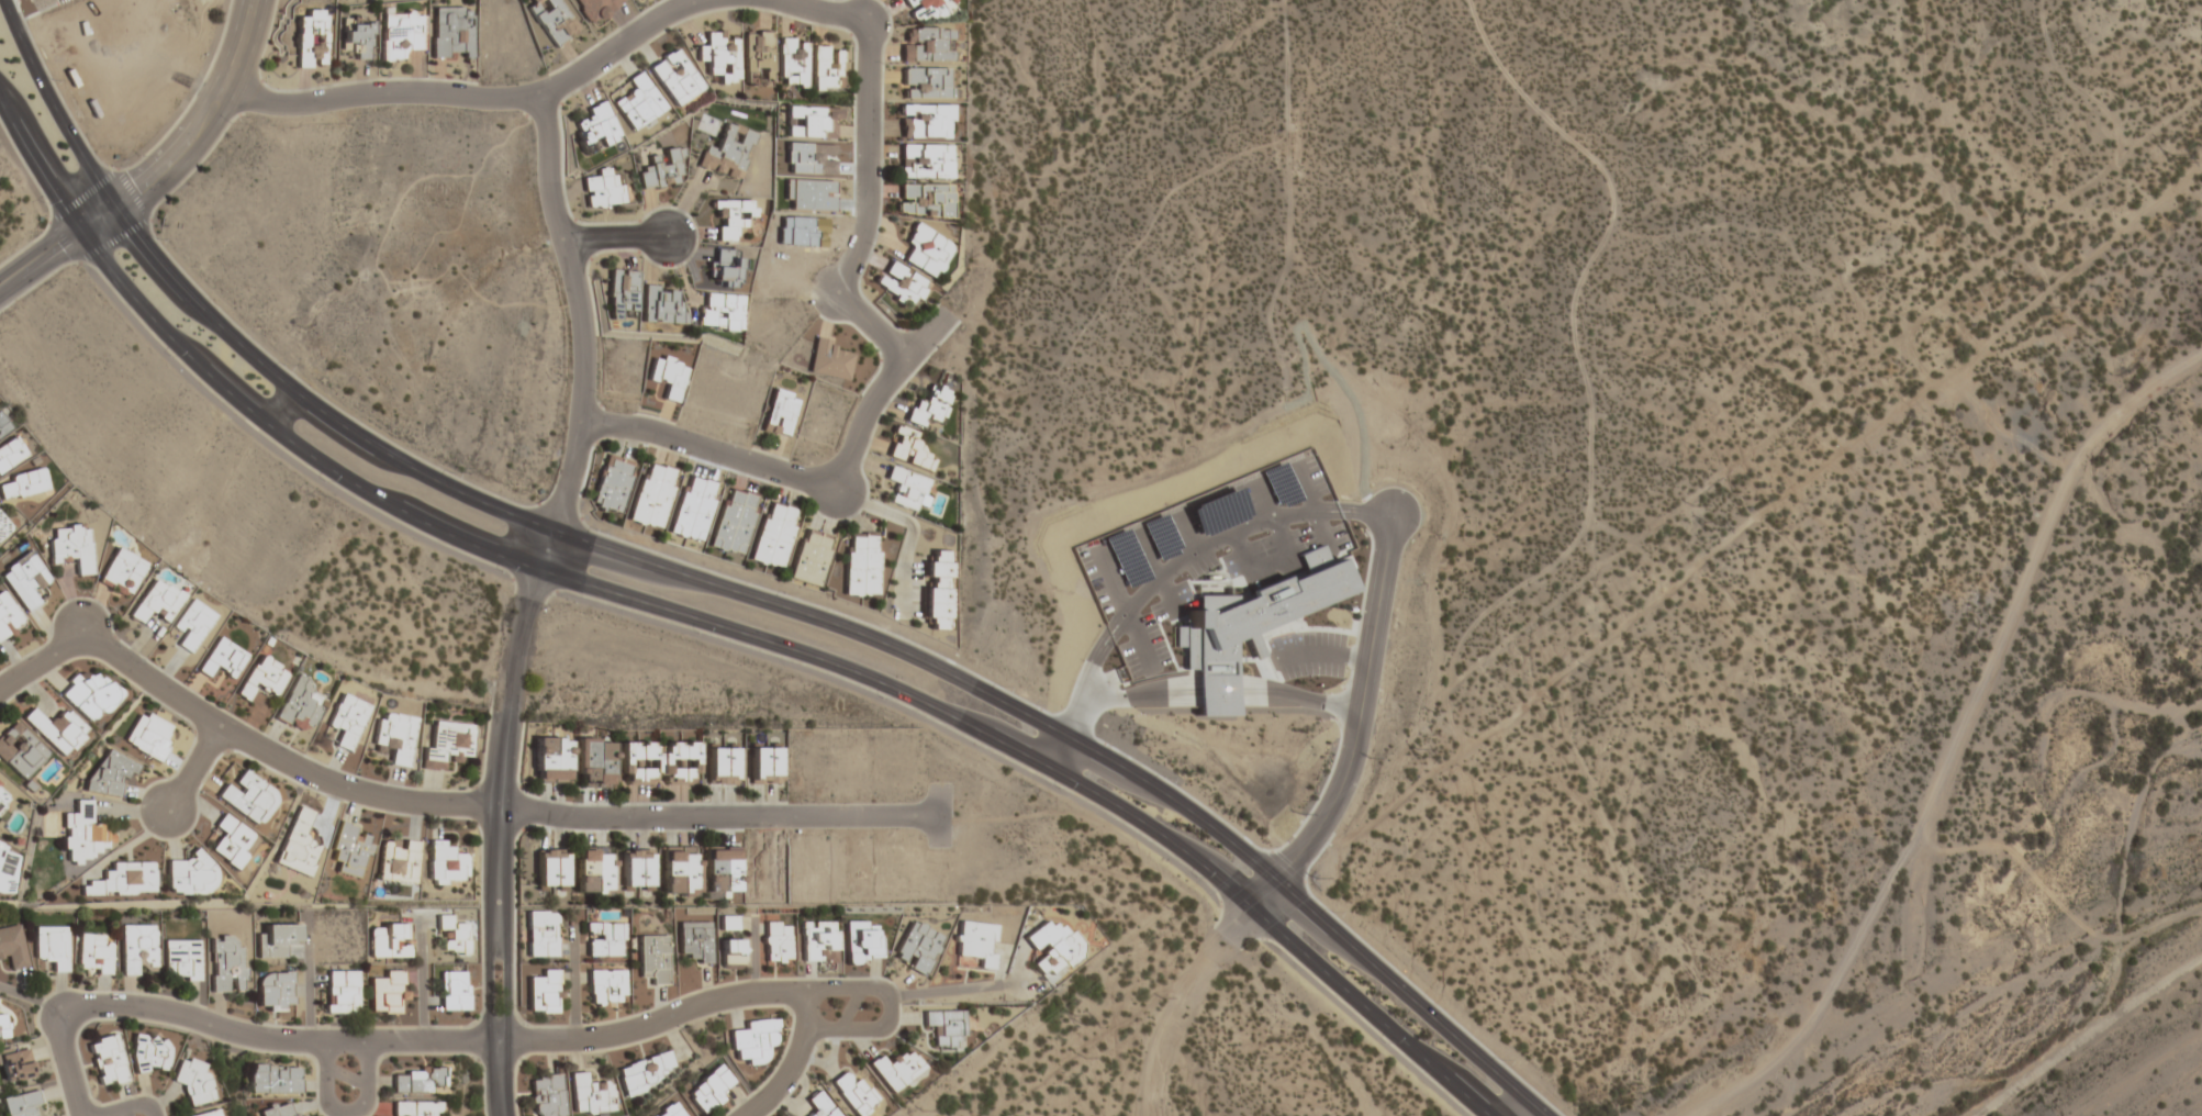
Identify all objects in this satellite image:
building: (597, 9)
building: (927, 9)
building: (549, 21)
building: (449, 34)
building: (399, 35)
building: (354, 40)
building: (310, 41)
building: (926, 45)
building: (757, 56)
building: (718, 57)
building: (792, 63)
street lamp: (884, 65)
building: (826, 69)
building: (674, 78)
street lamp: (53, 80)
street lamp: (476, 82)
building: (925, 83)
road: (2068, 83)
street lamp: (322, 85)
road: (484, 98)
building: (638, 102)
building: (813, 122)
building: (925, 122)
street lamp: (231, 124)
building: (594, 130)
road: (868, 141)
building: (728, 153)
street lamp: (139, 156)
power tower: (2173, 157)
building: (924, 163)
building: (662, 171)
road: (161, 172)
building: (602, 190)
building: (924, 200)
street lamp: (43, 203)
road: (1284, 204)
building: (733, 219)
street lamp: (586, 222)
road: (615, 236)
street lamp: (157, 239)
street lamp: (874, 246)
building: (925, 252)
building: (725, 268)
power tower: (2016, 280)
building: (899, 284)
building: (619, 292)
building: (660, 305)
building: (718, 311)
road: (585, 335)
road: (1567, 338)
street lamp: (169, 357)
building: (828, 360)
street lamp: (284, 366)
building: (668, 376)
street lamp: (597, 394)
building: (928, 406)
road: (1798, 411)
building: (780, 413)
building: (2, 427)
building: (908, 450)
street lamp: (451, 473)
road: (804, 478)
street lamp: (324, 482)
building: (23, 484)
building: (613, 484)
road: (835, 486)
building: (907, 489)
building: (652, 495)
road: (1765, 507)
street lamp: (840, 524)
power tower: (1706, 525)
street lamp: (597, 531)
building: (774, 535)
building: (71, 548)
building: (811, 558)
road: (1164, 563)
building: (861, 565)
street lamp: (502, 572)
building: (121, 573)
building: (23, 580)
road: (731, 591)
building: (937, 592)
street lamp: (785, 594)
street lamp: (89, 598)
building: (157, 603)
building: (8, 617)
building: (192, 626)
road: (719, 626)
street lamp: (698, 634)
building: (1251, 643)
building: (222, 660)
building: (262, 679)
building: (88, 695)
street lamp: (882, 699)
road: (1132, 699)
road: (1297, 702)
building: (301, 705)
road: (1362, 707)
building: (347, 722)
building: (57, 732)
building: (149, 736)
building: (395, 738)
road: (1955, 743)
building: (447, 745)
building: (20, 750)
power tower: (1416, 751)
road: (501, 755)
building: (551, 760)
building: (657, 762)
building: (594, 763)
building: (720, 766)
building: (763, 766)
road: (194, 768)
building: (110, 775)
street lamp: (468, 788)
street lamp: (1060, 790)
building: (3, 797)
building: (248, 797)
street lamp: (909, 800)
street lamp: (658, 801)
road: (436, 804)
street lamp: (141, 828)
building: (81, 835)
building: (232, 841)
building: (299, 845)
building: (350, 849)
building: (398, 861)
building: (445, 863)
building: (550, 868)
building: (635, 869)
building: (4, 871)
building: (679, 871)
building: (593, 872)
building: (719, 872)
building: (188, 875)
street lamp: (1196, 879)
building: (123, 881)
building: (729, 923)
building: (541, 934)
building: (452, 936)
building: (606, 939)
building: (388, 940)
building: (277, 941)
building: (696, 941)
building: (862, 941)
building: (819, 942)
building: (778, 944)
building: (977, 944)
building: (1050, 946)
building: (12, 947)
building: (52, 947)
building: (917, 948)
building: (137, 950)
building: (731, 953)
building: (94, 955)
building: (653, 959)
building: (181, 961)
building: (226, 966)
building: (606, 987)
road: (968, 989)
building: (275, 992)
building: (452, 992)
road: (507, 992)
building: (340, 993)
building: (387, 993)
building: (544, 993)
street lamp: (516, 1007)
street lamp: (821, 1009)
road: (890, 1009)
power tower: (1074, 1018)
building: (946, 1027)
building: (2, 1028)
street lamp: (681, 1029)
road: (458, 1040)
building: (753, 1041)
street lamp: (1385, 1044)
building: (150, 1054)
street lamp: (347, 1054)
building: (108, 1061)
building: (15, 1067)
building: (897, 1070)
building: (642, 1073)
road: (499, 1078)
building: (273, 1080)
building: (195, 1082)
building: (420, 1082)
building: (711, 1089)
building: (854, 1093)
building: (546, 1095)
building: (590, 1095)
building: (22, 1105)
building: (819, 1105)
road: (128, 1107)
building: (414, 1108)
building: (276, 1111)
building: (669, 1111)
road: (345, 1112)
building: (205, 1114)
building: (301, 1115)

